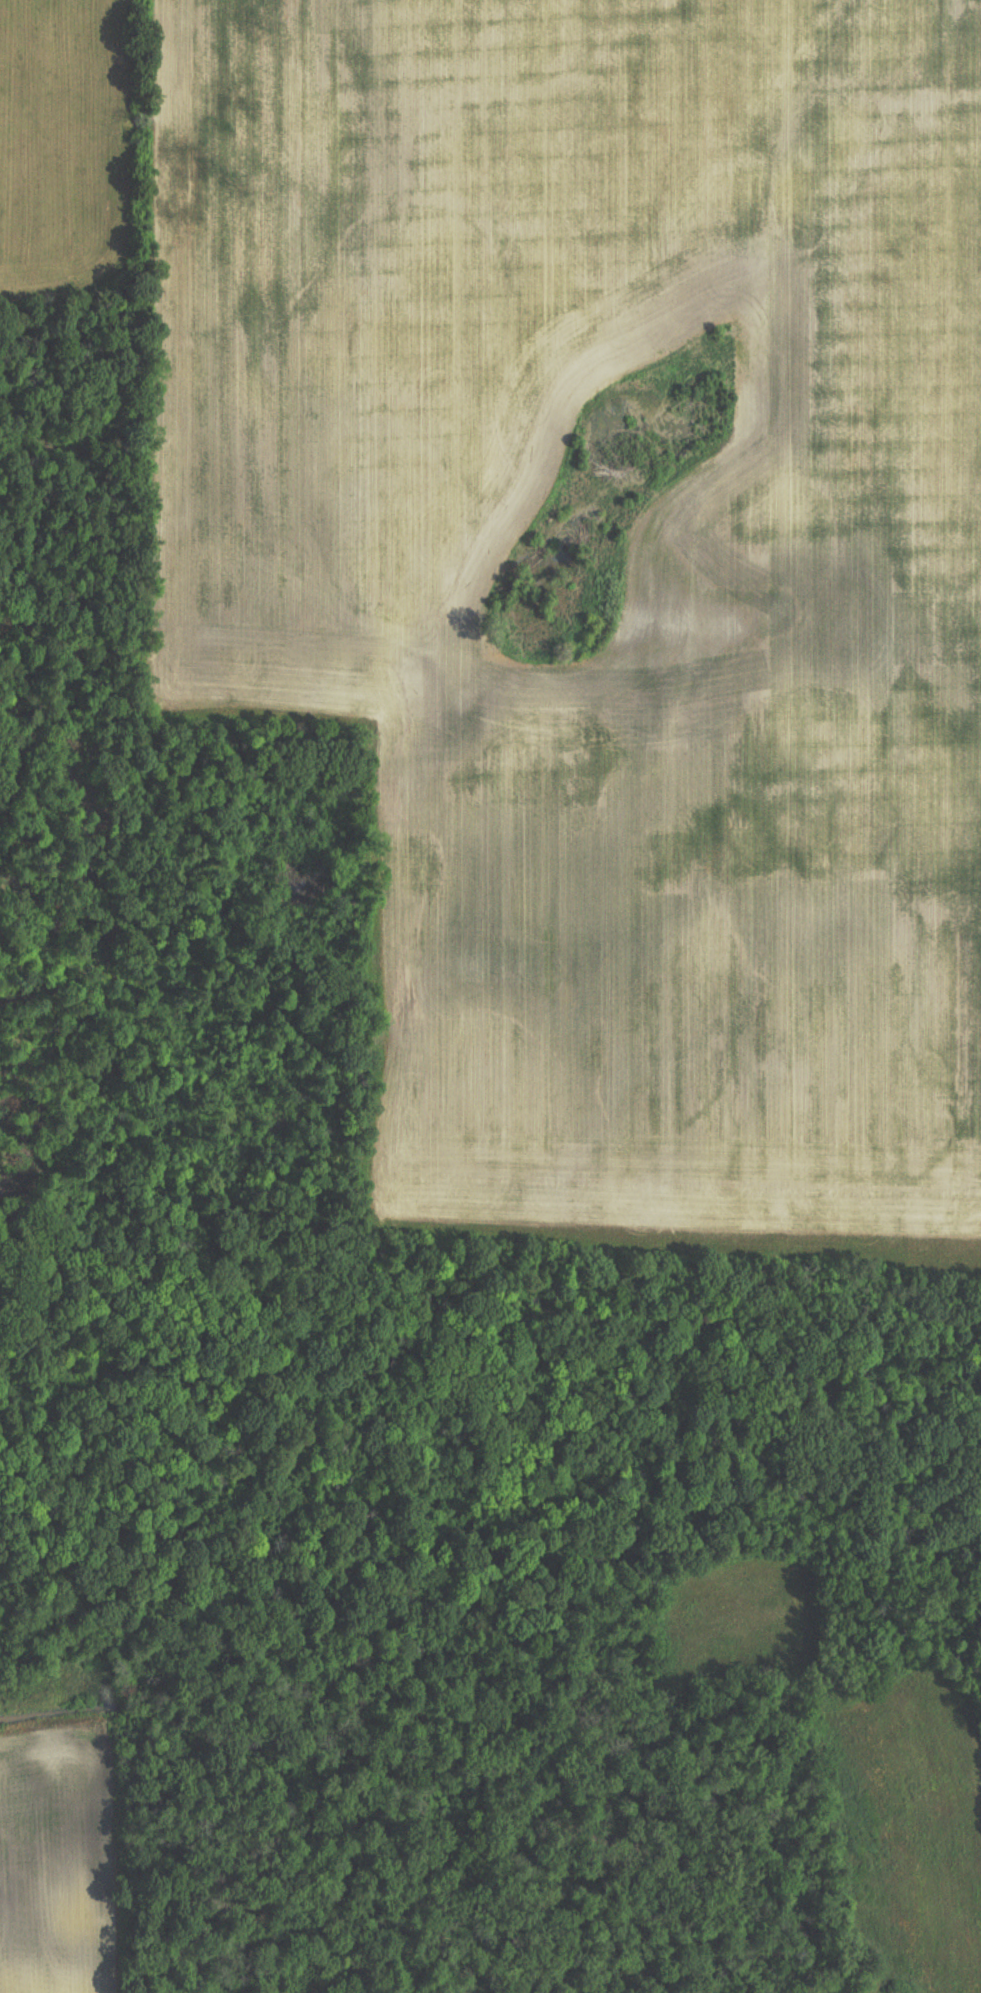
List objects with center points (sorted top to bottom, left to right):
crop: (824, 1987)

